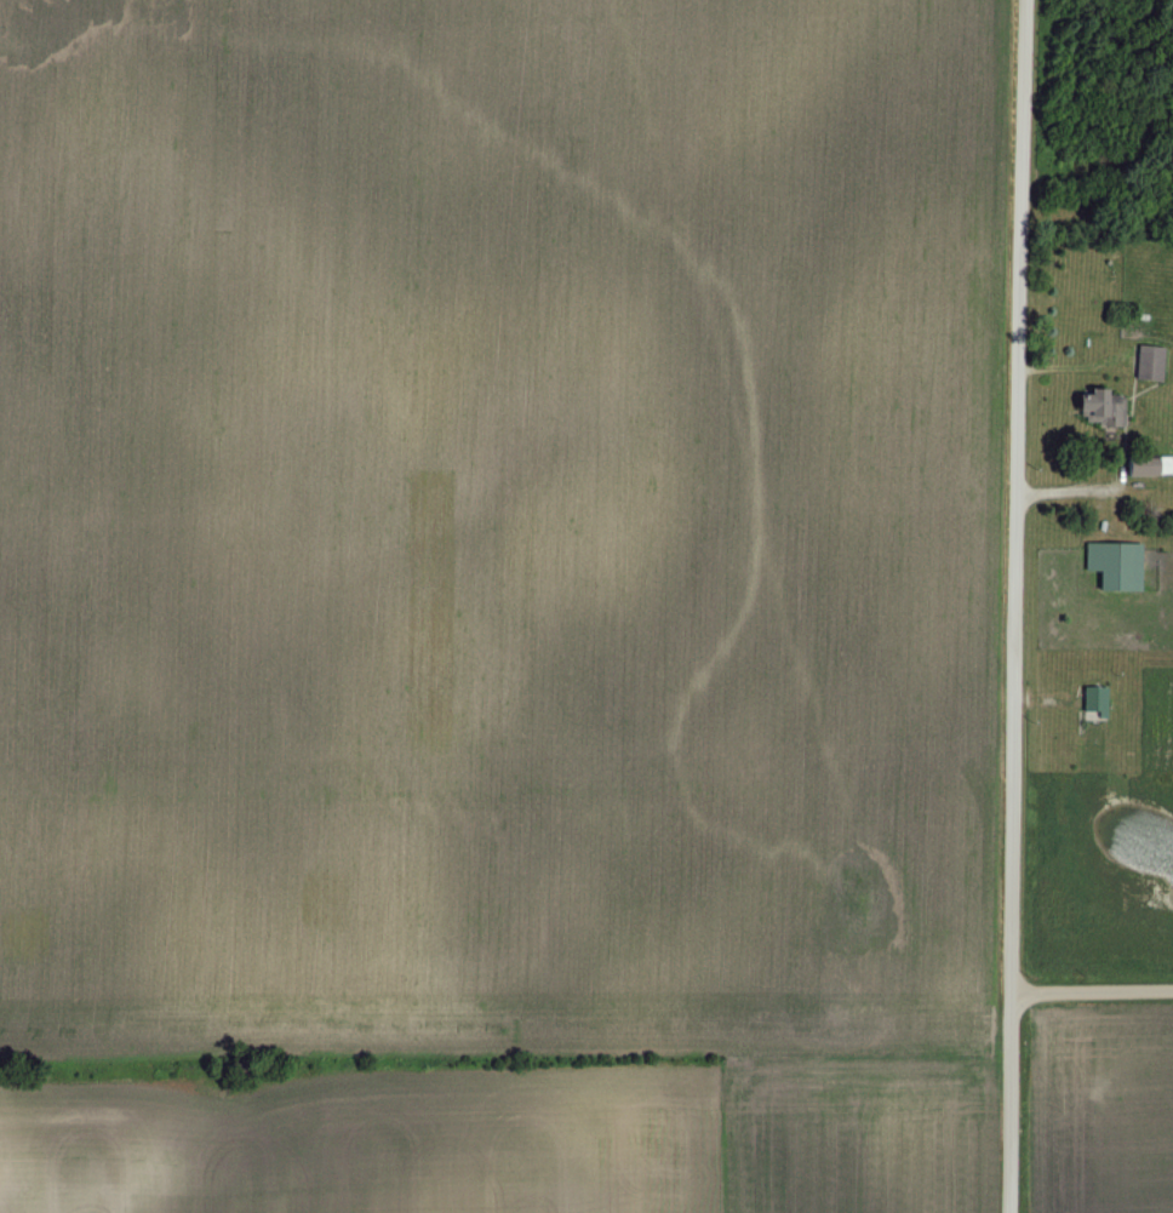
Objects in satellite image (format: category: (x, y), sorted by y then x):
crop: (502, 599)
road: (1017, 606)
building: (1099, 702)
road: (1092, 994)

